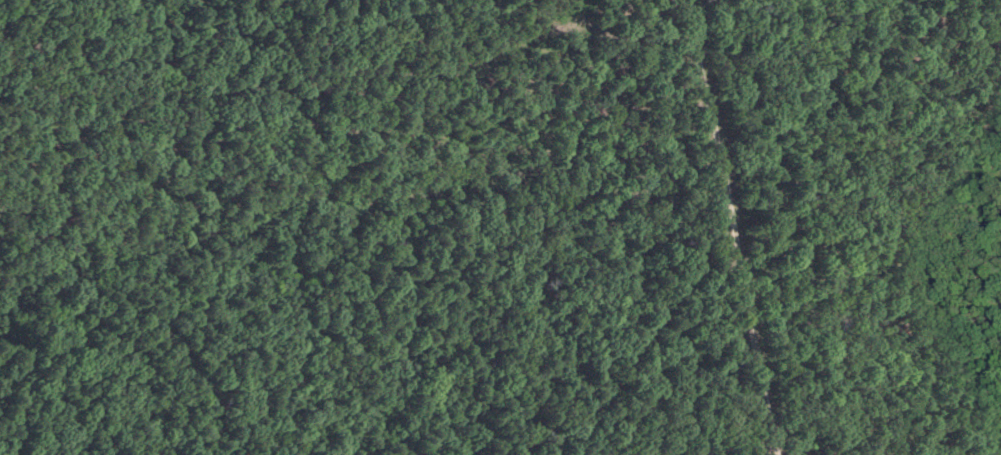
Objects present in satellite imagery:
road: (745, 227)

